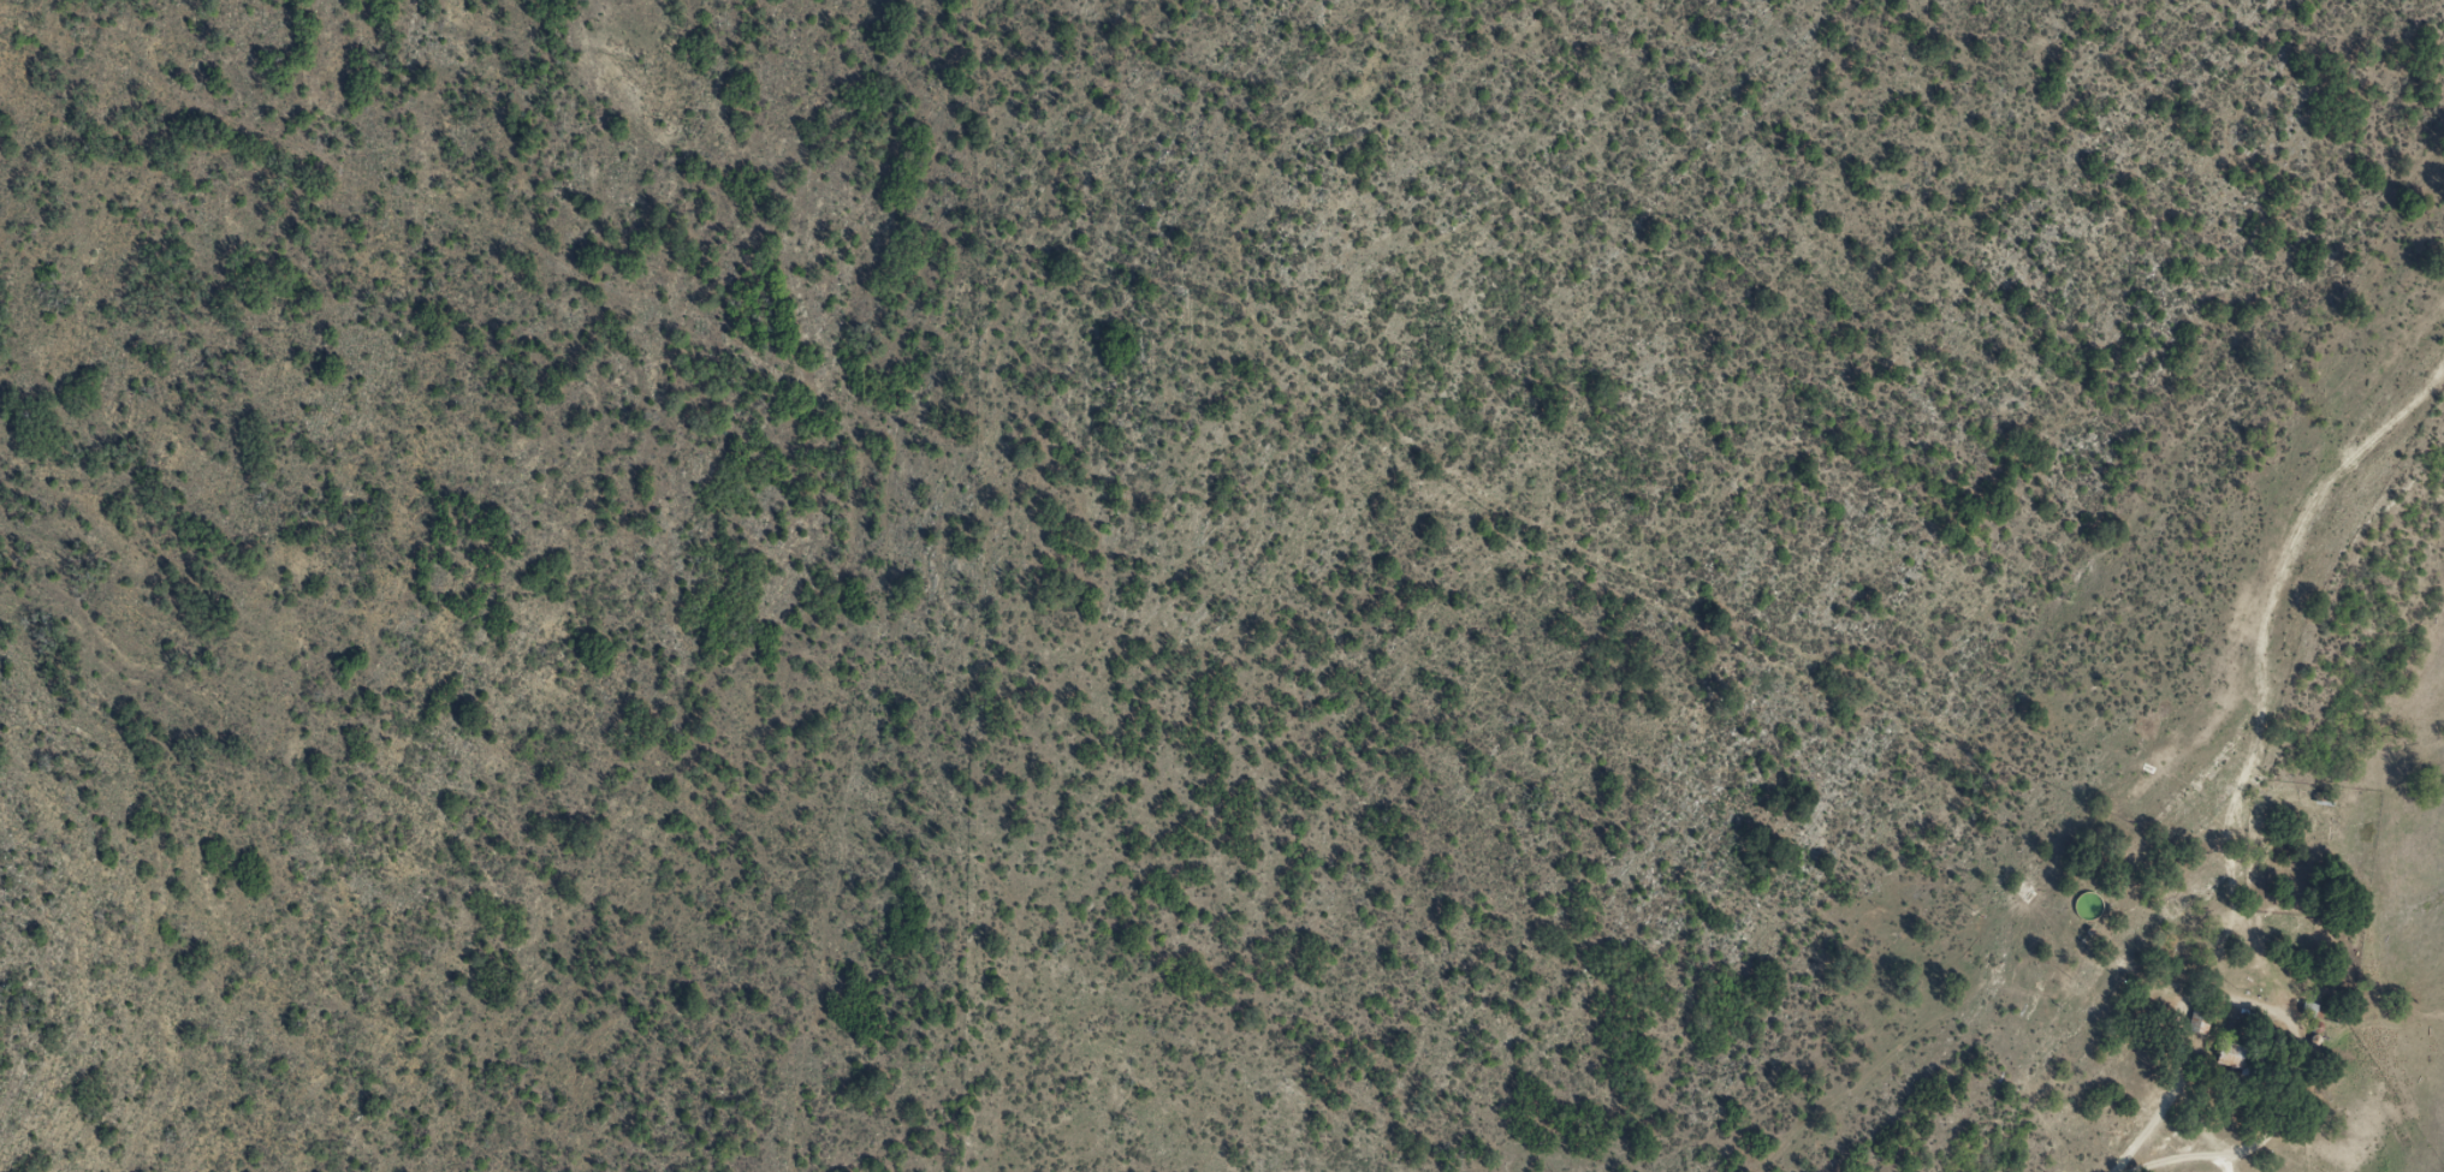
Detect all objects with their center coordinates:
road: (2296, 793)
road: (2387, 980)
building: (2195, 1018)
building: (2231, 1054)
road: (2223, 1158)

